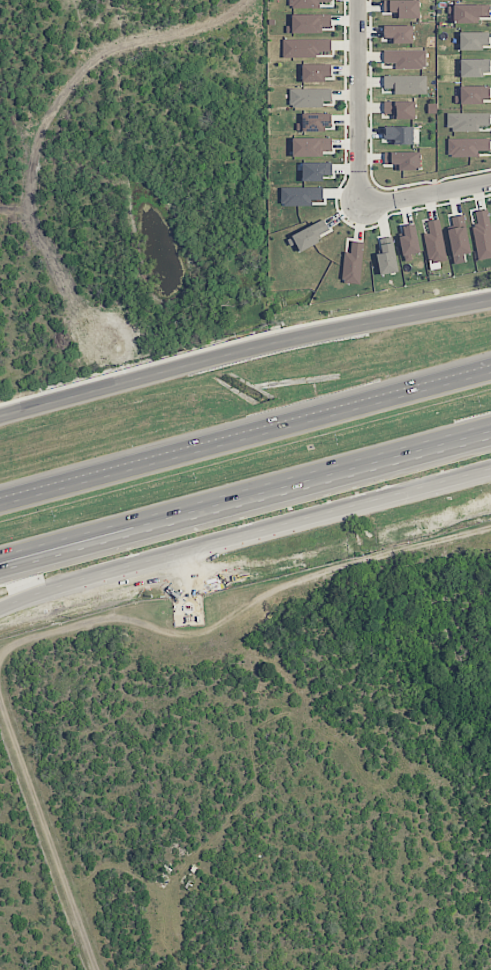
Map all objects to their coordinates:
building: (306, 3)
building: (402, 8)
building: (470, 13)
building: (309, 23)
building: (398, 33)
building: (474, 40)
building: (304, 47)
building: (406, 59)
building: (475, 67)
building: (316, 72)
building: (406, 84)
building: (473, 95)
building: (309, 97)
road: (356, 103)
building: (400, 109)
building: (467, 121)
building: (315, 122)
building: (398, 134)
building: (311, 146)
building: (467, 146)
building: (403, 160)
building: (316, 171)
road: (424, 193)
building: (300, 196)
building: (482, 234)
building: (308, 236)
building: (458, 239)
building: (409, 240)
building: (435, 242)
building: (387, 259)
building: (353, 264)
road: (243, 354)
road: (245, 442)
road: (245, 489)
road: (244, 536)
road: (242, 619)
road: (47, 837)

